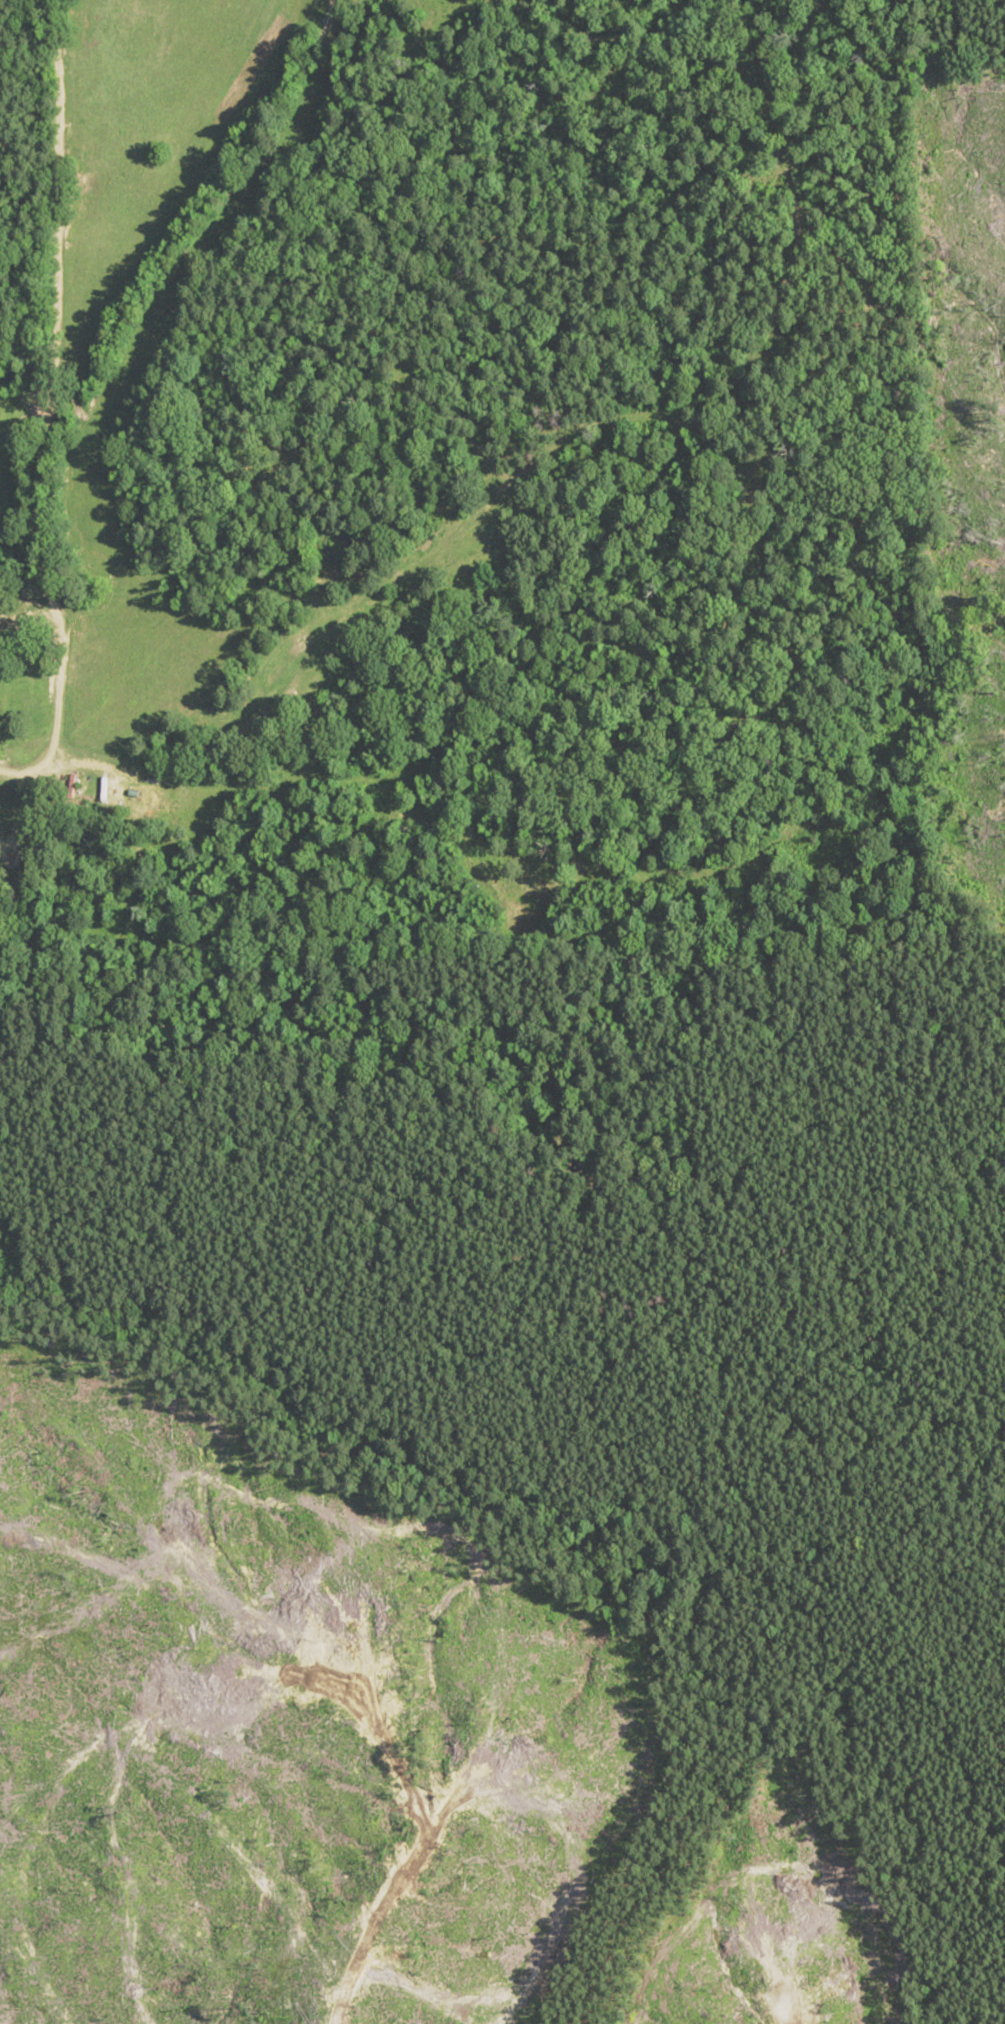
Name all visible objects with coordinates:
road: (14, 443)

